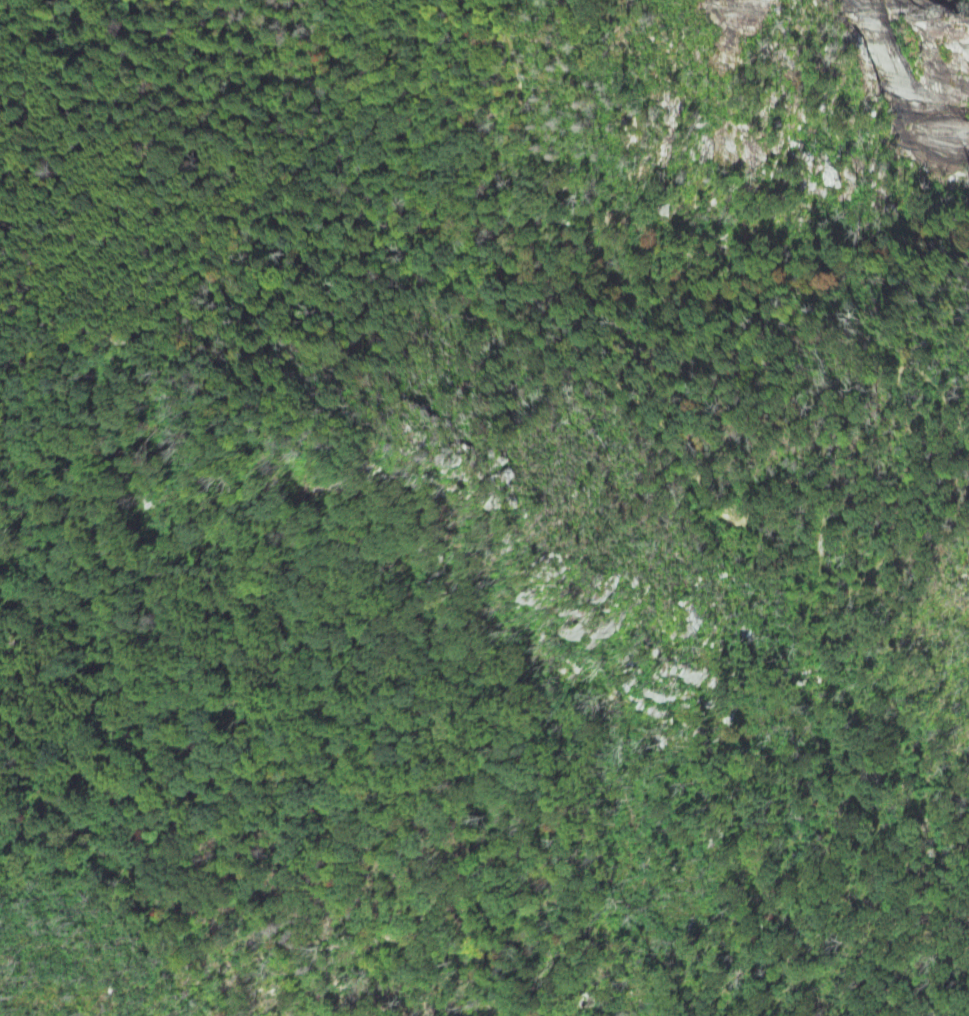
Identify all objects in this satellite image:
road: (703, 477)
park: (484, 508)

